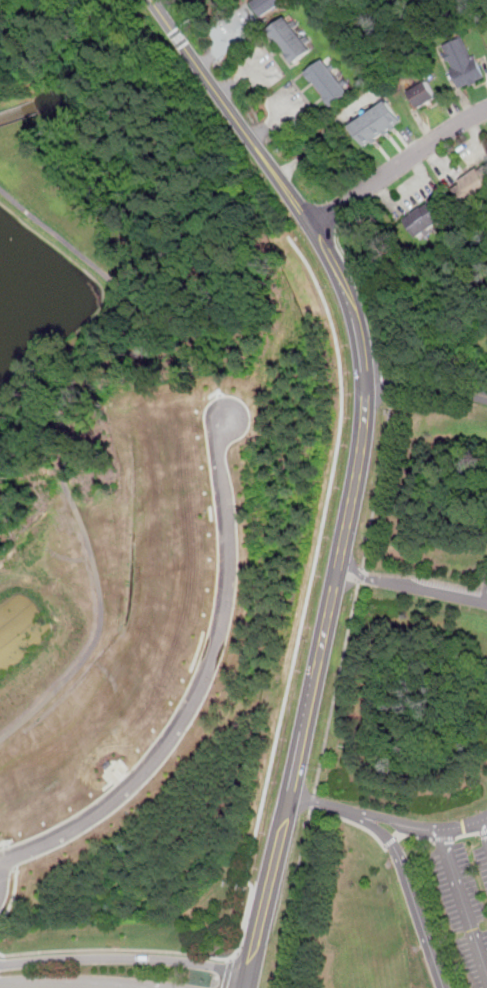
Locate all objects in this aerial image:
building: (266, 5)
building: (293, 37)
road: (222, 45)
building: (465, 64)
building: (329, 81)
building: (426, 96)
building: (379, 124)
road: (398, 162)
building: (474, 187)
building: (431, 217)
road: (427, 382)
road: (54, 445)
road: (384, 450)
road: (360, 468)
road: (362, 569)
road: (360, 575)
road: (412, 584)
parking lot: (484, 585)
road: (305, 597)
road: (198, 684)
road: (335, 687)
building: (42, 784)
road: (312, 800)
road: (310, 809)
road: (388, 818)
road: (485, 824)
road: (483, 831)
road: (466, 833)
road: (413, 835)
road: (442, 838)
road: (390, 841)
road: (3, 842)
road: (6, 843)
road: (301, 855)
road: (11, 856)
road: (2, 876)
road: (408, 887)
road: (11, 895)
parking lot: (466, 900)
road: (462, 903)
road: (115, 948)
road: (2, 953)
road: (125, 958)
road: (227, 975)
road: (82, 980)

